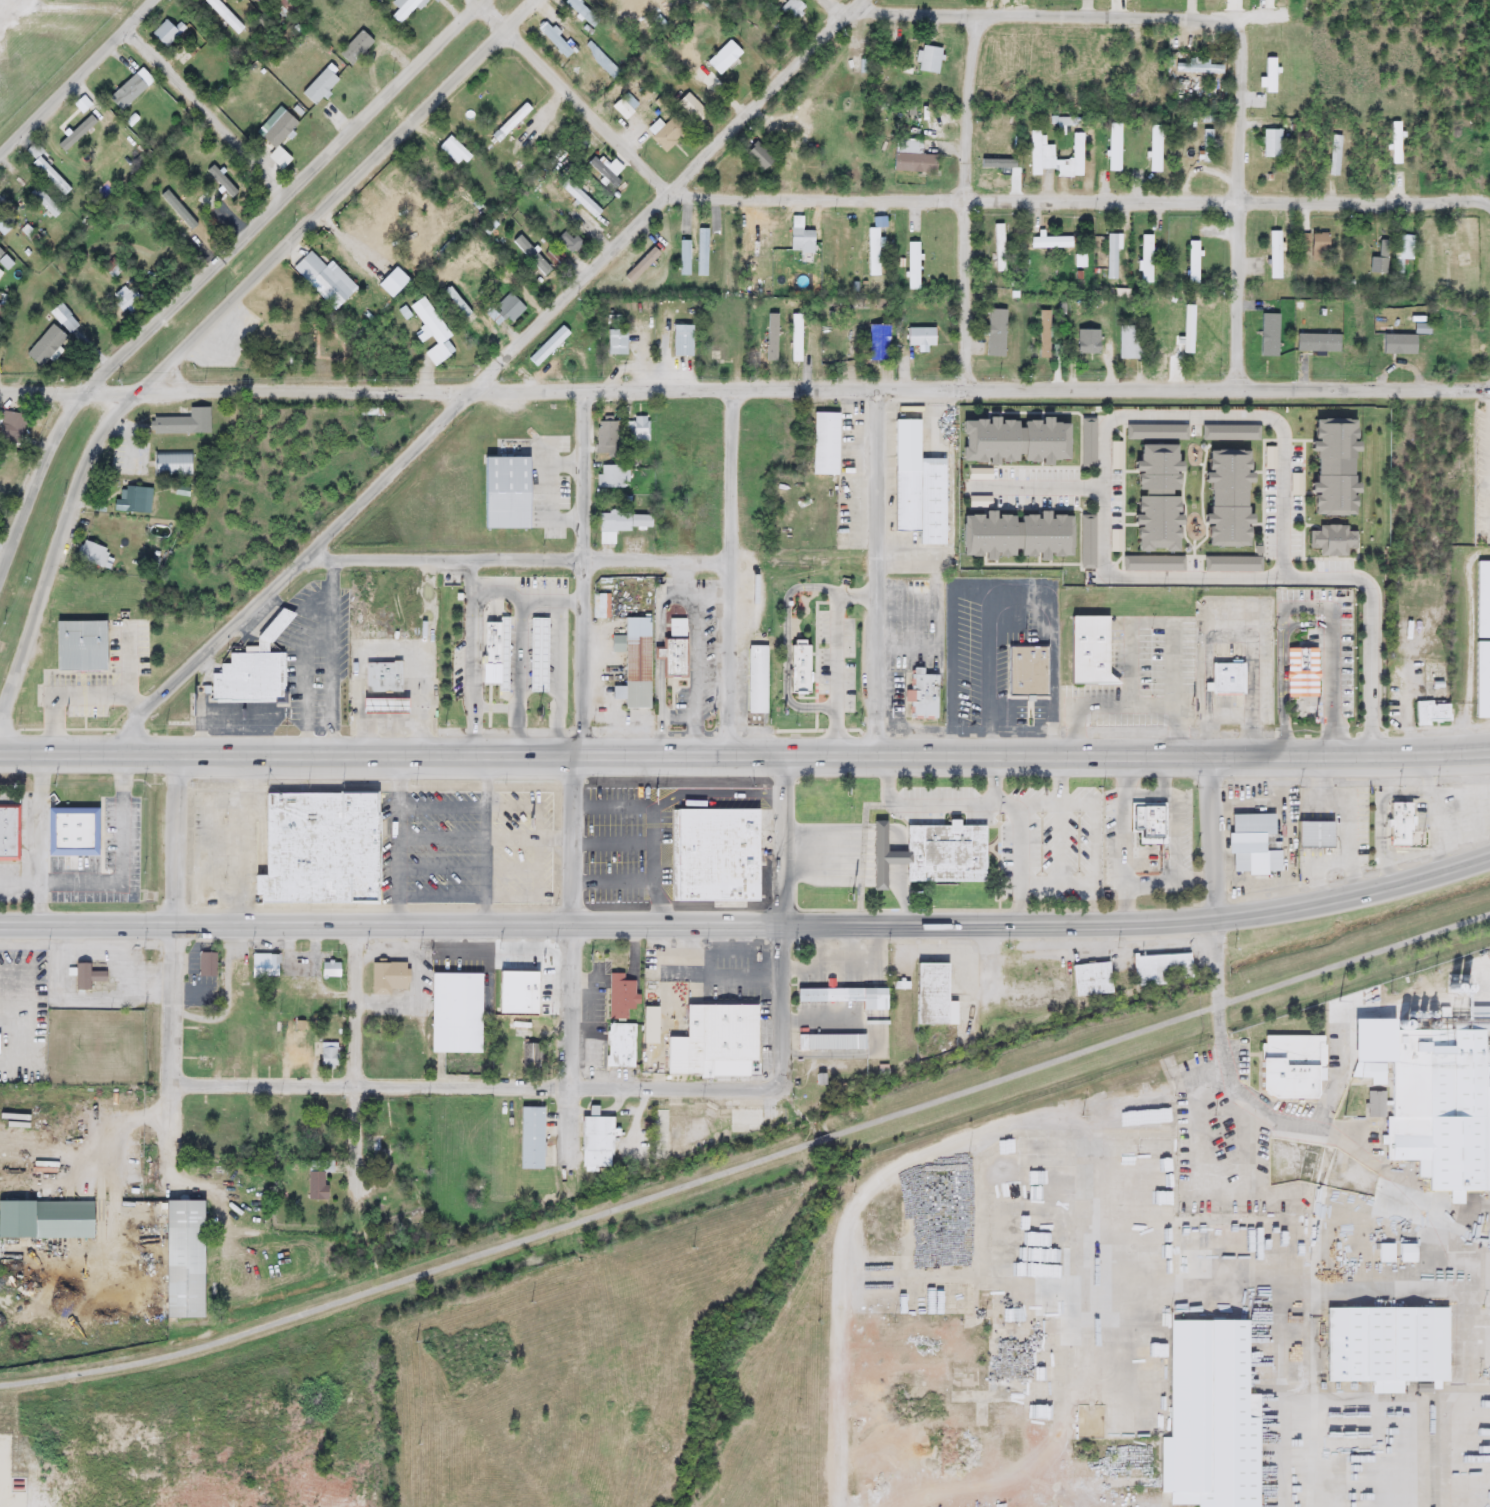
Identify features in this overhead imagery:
road: (69, 0)
building: (289, 5)
road: (842, 5)
building: (402, 9)
building: (575, 9)
building: (790, 9)
road: (1039, 14)
building: (224, 15)
building: (166, 33)
building: (554, 39)
building: (354, 48)
building: (722, 57)
building: (928, 59)
building: (1200, 68)
road: (76, 77)
building: (318, 87)
building: (129, 89)
building: (851, 91)
road: (571, 96)
building: (685, 102)
building: (621, 108)
road: (206, 111)
building: (698, 118)
building: (661, 132)
building: (76, 133)
building: (1201, 135)
building: (1271, 143)
building: (1113, 147)
building: (1155, 148)
building: (1038, 153)
building: (1333, 155)
building: (1204, 156)
building: (910, 157)
building: (759, 158)
building: (1071, 160)
building: (602, 172)
building: (50, 176)
building: (226, 188)
building: (396, 190)
building: (12, 191)
road: (966, 198)
building: (579, 199)
road: (1080, 200)
road: (1237, 203)
building: (5, 223)
building: (798, 236)
building: (567, 242)
building: (1049, 243)
building: (1311, 243)
building: (998, 248)
building: (872, 252)
building: (1400, 253)
building: (1274, 255)
building: (1111, 257)
building: (1145, 259)
building: (1379, 260)
building: (1080, 261)
building: (1193, 262)
road: (212, 266)
building: (912, 266)
building: (332, 284)
building: (505, 310)
building: (64, 319)
road: (208, 323)
building: (1188, 330)
building: (430, 331)
building: (995, 333)
building: (1042, 335)
building: (920, 337)
building: (680, 341)
building: (1086, 341)
building: (615, 342)
building: (1128, 342)
building: (1454, 342)
building: (51, 345)
building: (547, 347)
building: (0, 361)
road: (488, 374)
road: (745, 388)
road: (1191, 416)
building: (187, 418)
building: (14, 423)
building: (636, 431)
building: (1155, 433)
building: (1229, 433)
building: (605, 436)
building: (1011, 442)
building: (1087, 443)
building: (823, 444)
building: (667, 451)
building: (176, 461)
building: (1329, 467)
building: (612, 476)
building: (675, 482)
road: (1035, 488)
building: (512, 492)
building: (136, 496)
building: (1153, 498)
building: (1224, 498)
building: (920, 501)
building: (700, 508)
building: (0, 514)
building: (669, 517)
building: (622, 522)
building: (1085, 527)
building: (1013, 536)
building: (1328, 541)
building: (98, 549)
road: (591, 562)
road: (878, 567)
road: (730, 569)
road: (585, 570)
road: (1230, 575)
road: (502, 585)
road: (555, 595)
building: (1482, 600)
road: (299, 605)
road: (1310, 617)
road: (698, 632)
road: (790, 641)
building: (86, 642)
building: (679, 646)
building: (1094, 649)
building: (501, 651)
building: (542, 651)
road: (838, 651)
road: (336, 655)
road: (1372, 659)
building: (634, 662)
building: (805, 667)
building: (1030, 667)
building: (251, 670)
building: (1305, 670)
parking lot: (101, 671)
road: (558, 672)
building: (387, 673)
road: (311, 674)
building: (1231, 675)
building: (761, 677)
building: (1481, 680)
road: (119, 687)
building: (926, 693)
road: (136, 696)
road: (663, 703)
building: (390, 704)
gas station: (390, 704)
building: (1430, 713)
road: (55, 719)
road: (744, 751)
road: (615, 801)
road: (720, 801)
road: (1335, 803)
road: (1430, 811)
road: (1381, 815)
building: (721, 818)
building: (1151, 819)
building: (1398, 823)
building: (76, 828)
building: (13, 829)
building: (1319, 833)
road: (399, 834)
road: (487, 834)
road: (43, 835)
road: (177, 835)
road: (529, 839)
building: (721, 842)
building: (1257, 842)
road: (544, 843)
building: (325, 847)
building: (935, 852)
road: (1410, 855)
building: (677, 856)
road: (659, 860)
road: (1334, 861)
road: (123, 874)
building: (722, 878)
road: (782, 900)
road: (285, 919)
road: (1034, 922)
road: (570, 959)
building: (205, 964)
building: (264, 965)
building: (1160, 969)
building: (237, 971)
building: (85, 976)
building: (387, 977)
building: (1089, 979)
building: (522, 981)
building: (931, 995)
building: (619, 996)
building: (843, 996)
building: (454, 1013)
building: (648, 1019)
road: (1163, 1020)
road: (171, 1028)
building: (202, 1033)
building: (523, 1039)
building: (714, 1041)
building: (829, 1042)
building: (619, 1045)
building: (328, 1055)
building: (265, 1058)
building: (297, 1059)
building: (231, 1060)
building: (202, 1062)
building: (1288, 1066)
road: (488, 1085)
building: (1439, 1106)
road: (1031, 1113)
building: (261, 1115)
building: (750, 1117)
building: (298, 1119)
building: (1147, 1133)
building: (659, 1135)
road: (824, 1136)
building: (530, 1138)
building: (594, 1140)
building: (385, 1143)
building: (1043, 1146)
building: (416, 1156)
road: (353, 1158)
building: (315, 1183)
road: (1096, 1193)
road: (988, 1205)
building: (45, 1220)
building: (1406, 1232)
building: (182, 1259)
road: (410, 1282)
road: (1265, 1286)
road: (1482, 1336)
building: (1384, 1346)
building: (1208, 1414)

